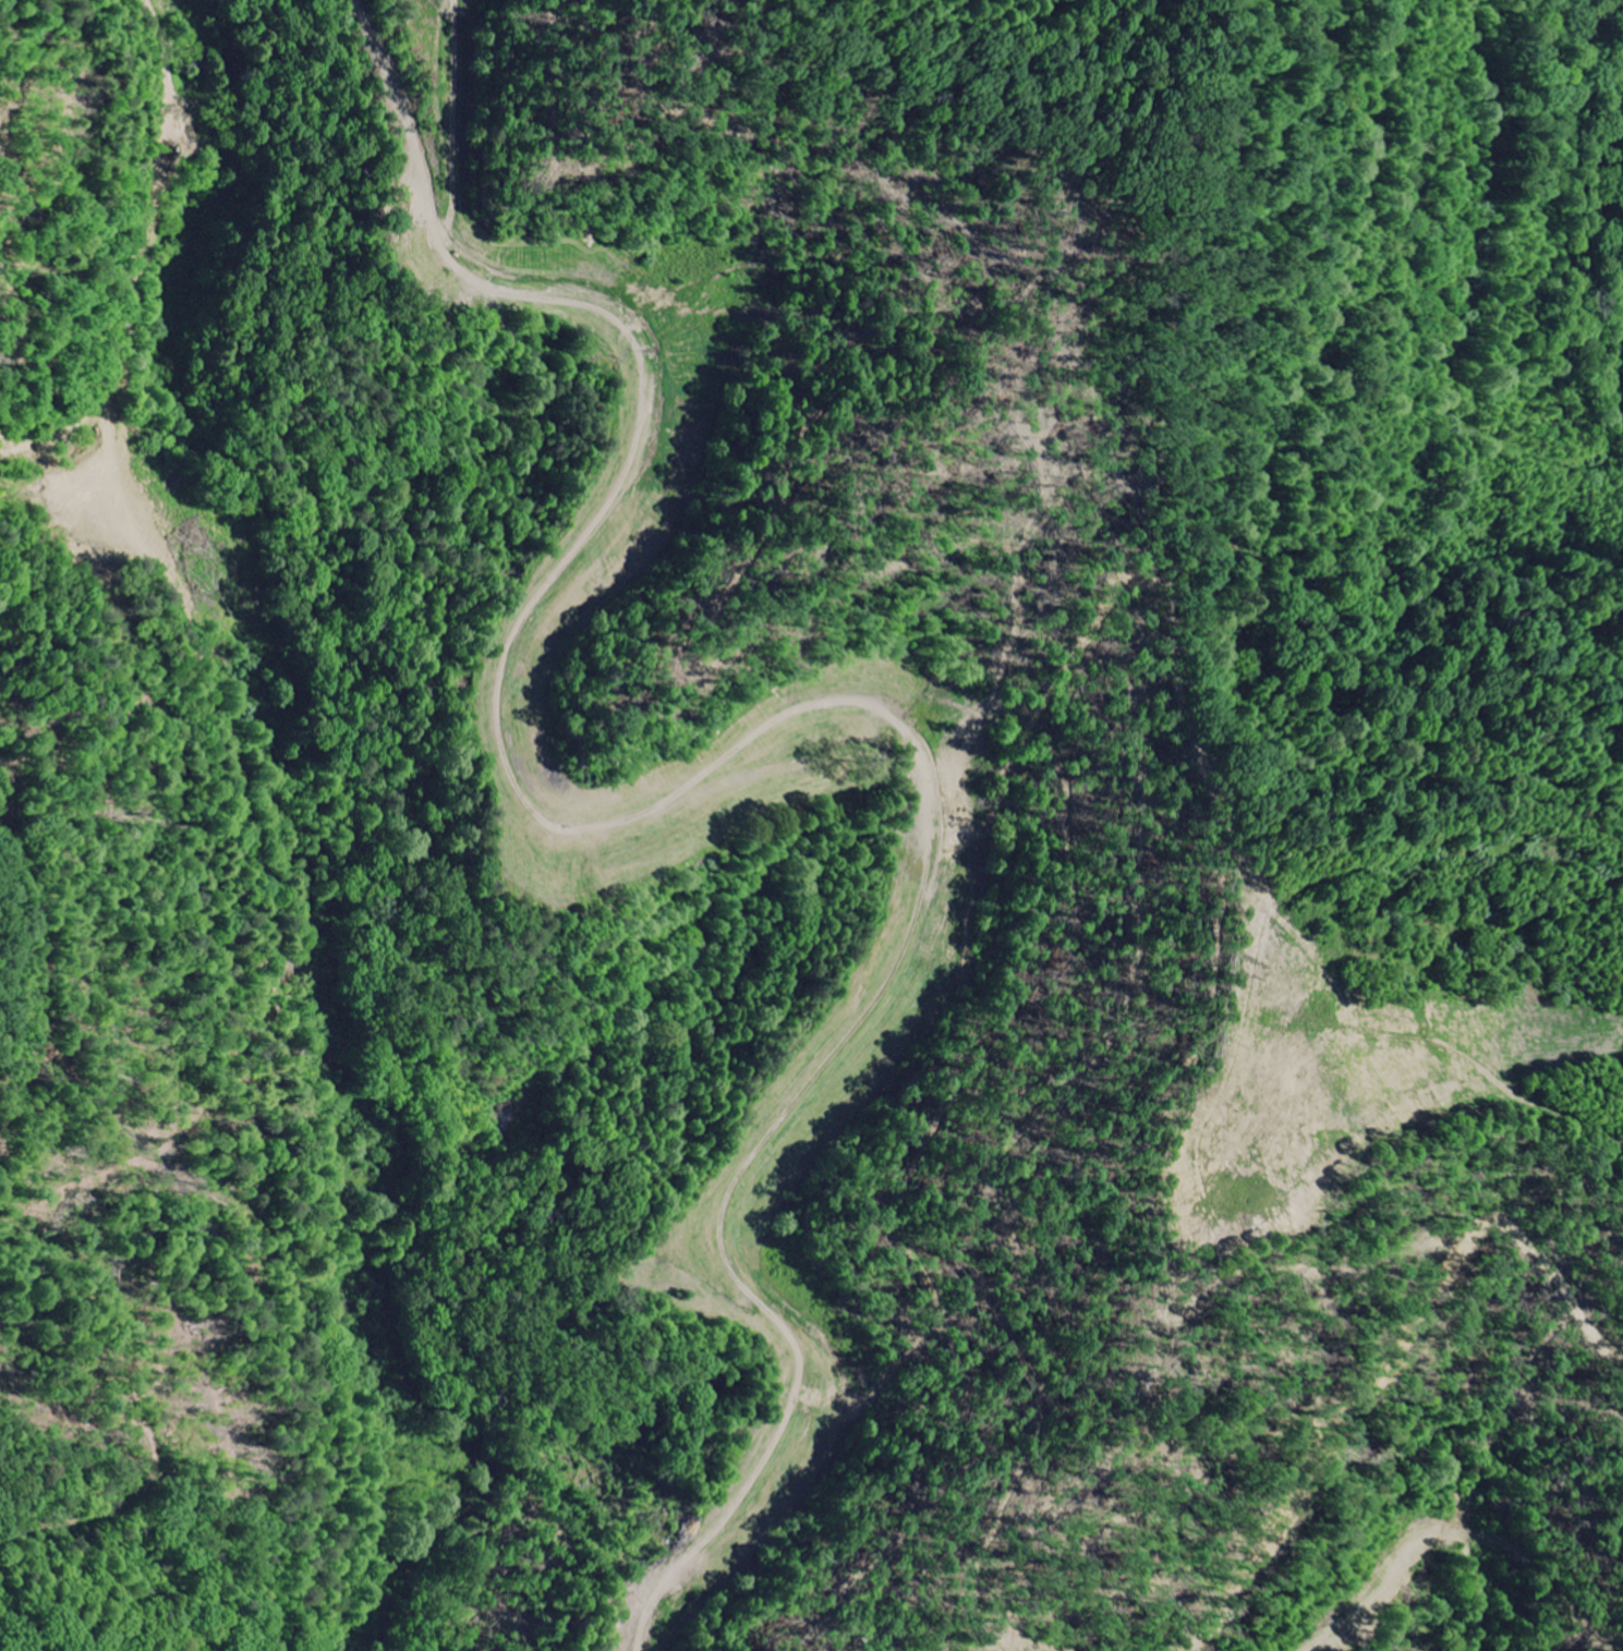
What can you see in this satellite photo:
road: (22, 26)
road: (219, 817)

